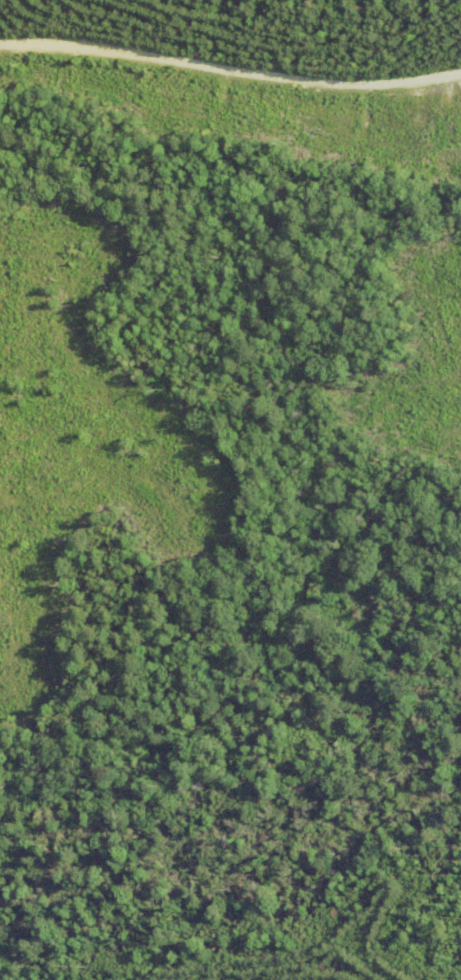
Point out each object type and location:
road: (230, 68)

